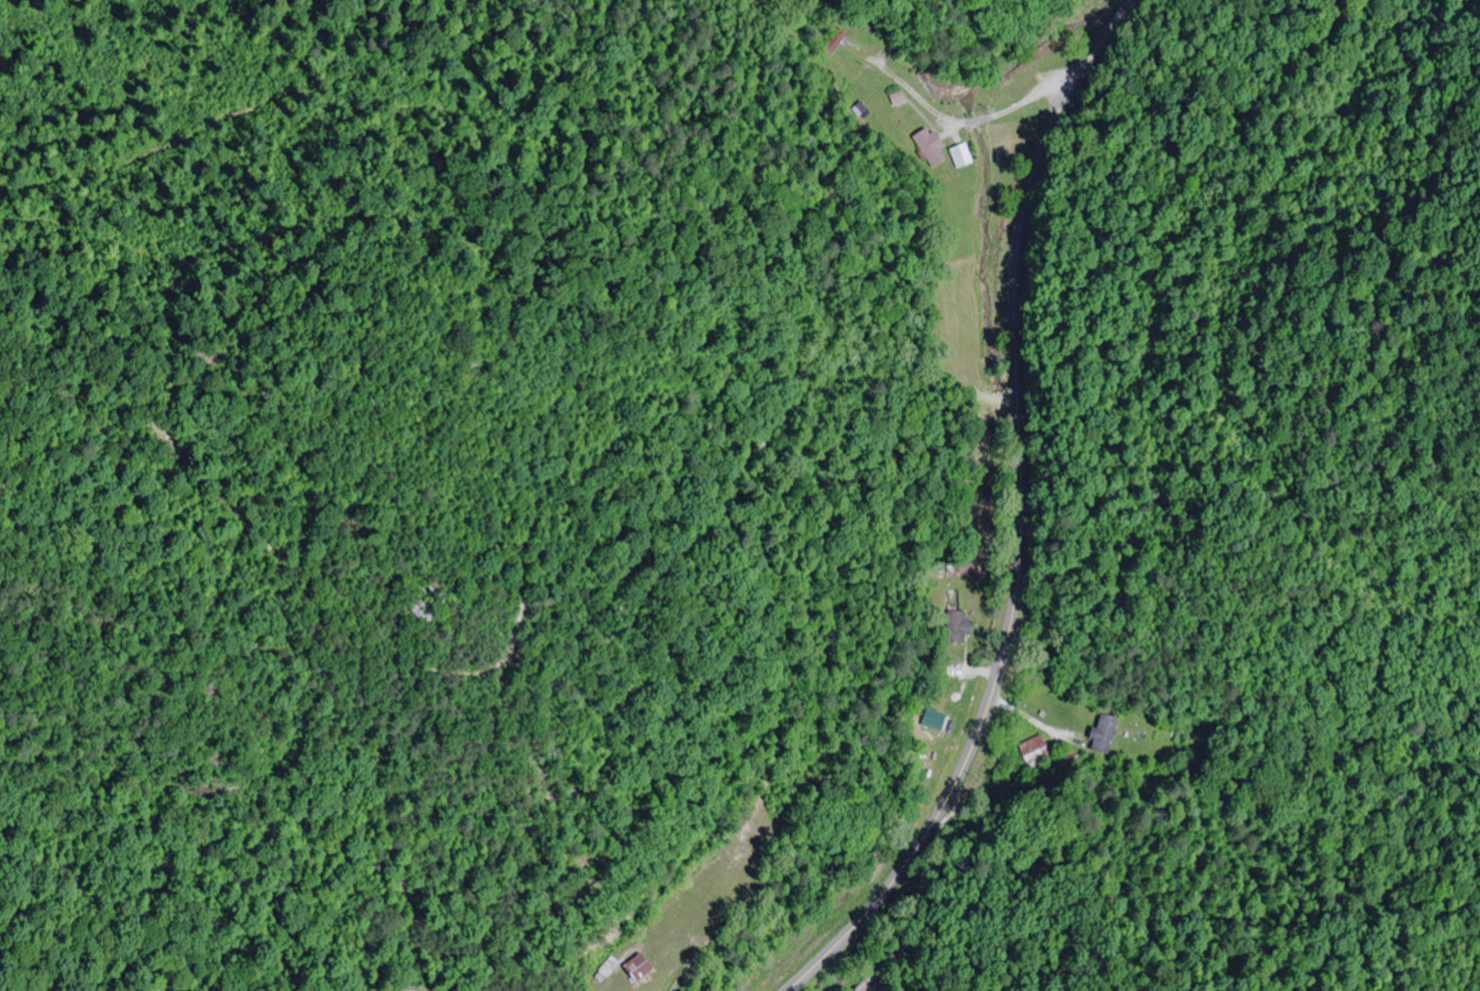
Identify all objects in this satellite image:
building: (836, 42)
building: (899, 98)
building: (932, 147)
building: (963, 155)
road: (1020, 515)
building: (961, 566)
building: (432, 614)
building: (958, 631)
building: (1104, 734)
building: (1032, 749)
building: (641, 967)

